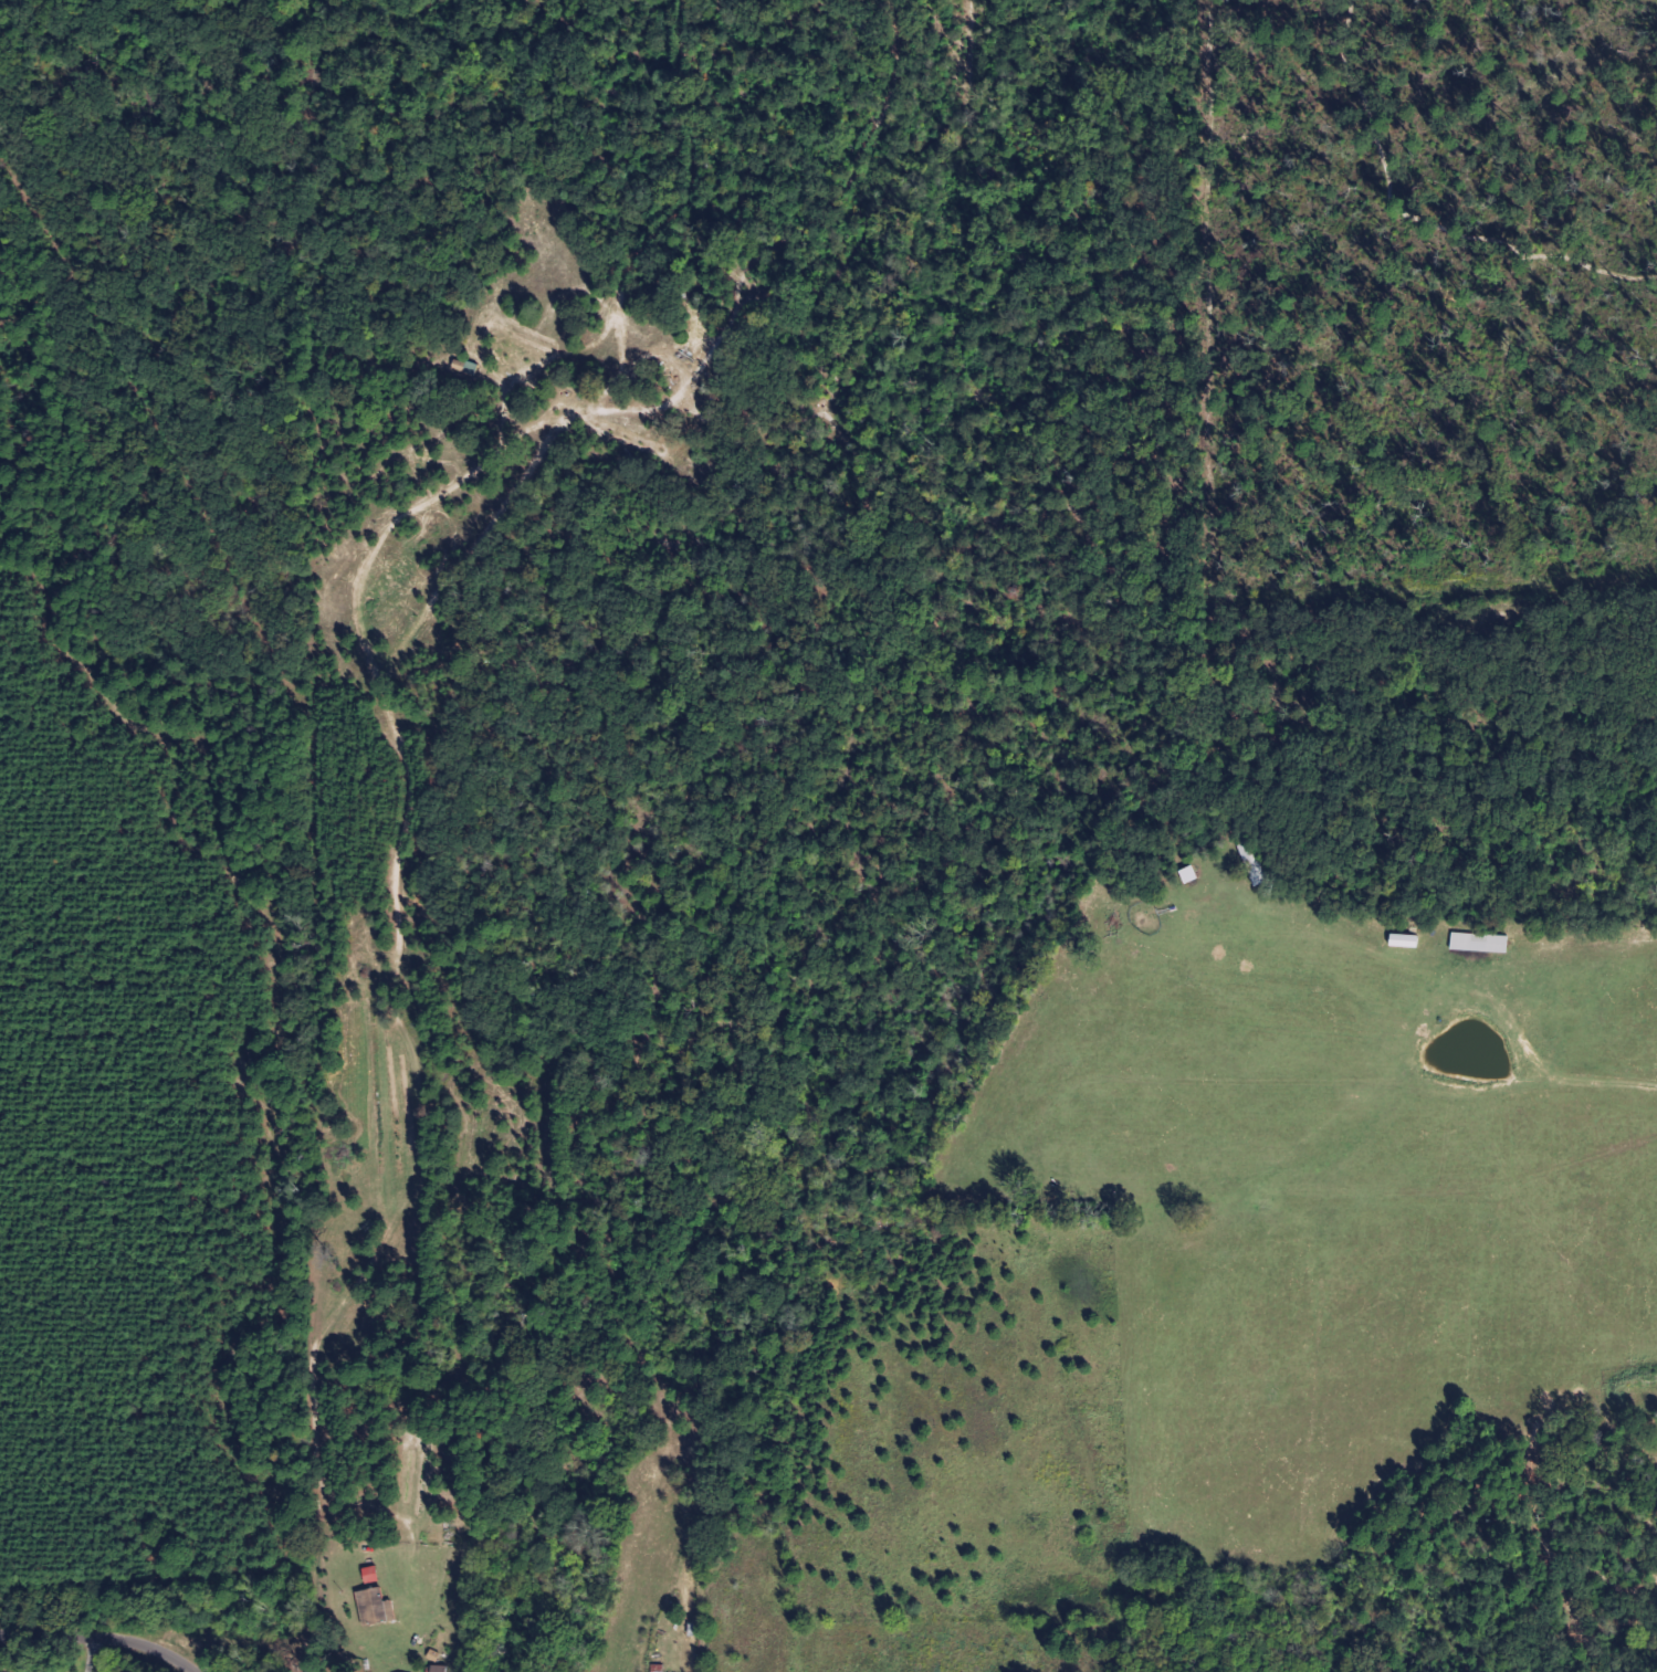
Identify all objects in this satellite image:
building: (1480, 943)
building: (373, 1575)
building: (377, 1608)
road: (99, 1639)
building: (442, 1669)
building: (659, 1669)

